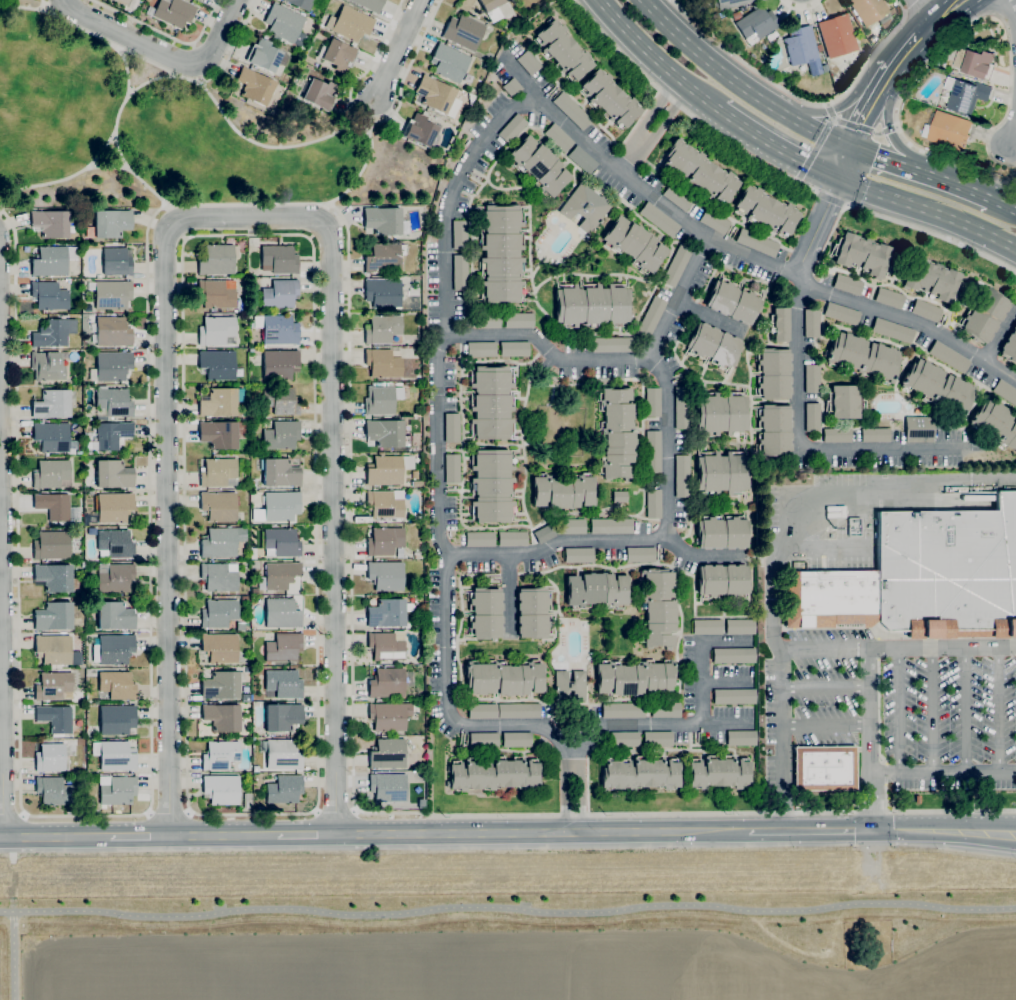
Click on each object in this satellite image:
building: (198, 0)
building: (846, 0)
building: (123, 1)
building: (732, 3)
building: (133, 4)
building: (304, 4)
building: (369, 4)
road: (910, 6)
road: (29, 7)
building: (492, 8)
road: (802, 8)
road: (925, 9)
building: (870, 10)
building: (173, 12)
road: (1011, 12)
building: (736, 15)
building: (715, 16)
road: (936, 17)
building: (350, 23)
building: (285, 24)
building: (756, 24)
building: (463, 32)
road: (165, 34)
building: (837, 35)
road: (948, 43)
building: (800, 45)
road: (399, 48)
building: (563, 50)
road: (902, 51)
road: (163, 53)
building: (339, 55)
building: (264, 56)
road: (657, 59)
building: (449, 62)
building: (528, 62)
building: (975, 63)
road: (163, 68)
road: (157, 77)
building: (469, 78)
building: (835, 78)
road: (738, 83)
building: (254, 86)
building: (511, 87)
building: (320, 94)
building: (438, 96)
building: (966, 96)
building: (609, 98)
road: (801, 99)
road: (828, 105)
road: (843, 105)
road: (683, 107)
road: (867, 107)
building: (571, 110)
road: (373, 121)
road: (886, 125)
road: (651, 127)
road: (896, 127)
building: (512, 128)
road: (863, 129)
building: (419, 130)
building: (947, 131)
park: (172, 133)
road: (1012, 135)
building: (558, 137)
road: (113, 142)
road: (819, 142)
road: (274, 146)
road: (778, 147)
traffic signals: (848, 149)
building: (582, 160)
road: (883, 161)
road: (843, 164)
building: (538, 166)
road: (112, 167)
building: (699, 171)
road: (356, 178)
road: (798, 179)
traffic signals: (838, 179)
road: (144, 180)
road: (455, 182)
road: (954, 186)
building: (677, 197)
road: (829, 199)
road: (847, 205)
building: (585, 206)
road: (1002, 206)
road: (671, 210)
building: (767, 210)
road: (928, 210)
road: (247, 217)
road: (888, 218)
building: (659, 219)
building: (383, 220)
building: (715, 221)
building: (51, 223)
building: (110, 224)
road: (817, 230)
building: (460, 234)
road: (185, 238)
building: (757, 242)
building: (634, 244)
building: (501, 253)
building: (862, 254)
building: (384, 258)
building: (279, 259)
building: (52, 260)
building: (216, 260)
building: (116, 262)
building: (676, 265)
building: (460, 272)
building: (932, 279)
building: (847, 284)
building: (383, 292)
building: (280, 293)
building: (111, 294)
building: (216, 294)
building: (49, 296)
building: (889, 298)
building: (733, 301)
building: (592, 305)
building: (88, 308)
building: (926, 310)
building: (841, 313)
building: (984, 314)
road: (708, 315)
building: (651, 317)
building: (486, 320)
building: (518, 320)
road: (909, 321)
building: (811, 322)
building: (779, 324)
building: (383, 328)
building: (216, 330)
building: (892, 330)
building: (279, 331)
building: (112, 332)
building: (51, 334)
road: (456, 335)
building: (613, 344)
building: (713, 345)
building: (1010, 345)
building: (514, 348)
building: (251, 349)
building: (481, 349)
building: (862, 356)
building: (949, 356)
building: (383, 363)
building: (280, 364)
building: (113, 365)
building: (218, 365)
building: (47, 366)
building: (774, 373)
building: (419, 377)
building: (812, 379)
building: (938, 386)
building: (1005, 392)
road: (799, 394)
building: (382, 399)
building: (281, 400)
building: (220, 401)
building: (844, 401)
building: (112, 402)
building: (491, 402)
building: (653, 402)
building: (53, 403)
building: (682, 407)
building: (720, 414)
building: (417, 415)
building: (812, 417)
building: (90, 423)
building: (996, 423)
building: (452, 427)
building: (919, 429)
building: (774, 430)
building: (387, 433)
building: (617, 433)
building: (113, 434)
building: (219, 434)
building: (281, 435)
building: (837, 435)
building: (875, 435)
building: (53, 437)
building: (653, 451)
building: (452, 468)
building: (388, 469)
building: (219, 472)
building: (280, 472)
building: (721, 473)
building: (52, 474)
building: (113, 474)
building: (682, 476)
road: (149, 482)
building: (253, 484)
building: (417, 484)
building: (492, 485)
building: (563, 491)
building: (620, 496)
building: (654, 503)
building: (385, 504)
building: (54, 506)
building: (219, 506)
building: (112, 507)
building: (278, 507)
road: (843, 512)
building: (611, 525)
building: (571, 526)
building: (722, 532)
building: (542, 533)
building: (512, 538)
building: (479, 539)
building: (222, 541)
building: (384, 541)
building: (282, 542)
building: (115, 544)
building: (52, 545)
road: (821, 547)
building: (640, 554)
building: (579, 555)
road: (703, 556)
building: (948, 571)
building: (280, 574)
building: (385, 575)
building: (115, 577)
building: (219, 577)
building: (55, 578)
building: (722, 580)
building: (597, 590)
road: (510, 595)
building: (246, 598)
building: (830, 598)
building: (658, 607)
building: (388, 612)
building: (533, 612)
building: (219, 613)
building: (281, 613)
building: (485, 613)
building: (116, 615)
building: (55, 616)
road: (2, 625)
building: (240, 626)
building: (740, 626)
building: (707, 627)
building: (387, 645)
building: (220, 647)
building: (283, 647)
road: (897, 647)
building: (53, 649)
building: (113, 649)
building: (732, 655)
building: (220, 667)
building: (635, 677)
building: (504, 678)
building: (387, 683)
building: (282, 684)
building: (117, 685)
building: (222, 685)
building: (54, 686)
building: (570, 686)
road: (826, 687)
building: (734, 696)
parking lot: (900, 705)
building: (666, 709)
building: (518, 710)
building: (623, 710)
building: (482, 711)
road: (898, 711)
road: (965, 711)
road: (998, 711)
road: (933, 712)
building: (390, 715)
building: (283, 716)
building: (222, 717)
building: (55, 718)
building: (116, 719)
road: (698, 725)
road: (826, 725)
building: (658, 738)
building: (742, 738)
road: (870, 738)
building: (483, 739)
building: (517, 739)
building: (625, 739)
road: (782, 740)
building: (387, 753)
building: (283, 754)
building: (115, 755)
building: (218, 755)
building: (50, 757)
building: (824, 768)
building: (232, 769)
building: (719, 772)
building: (639, 773)
building: (493, 774)
road: (942, 775)
building: (387, 788)
building: (221, 789)
building: (284, 789)
building: (54, 791)
building: (116, 791)
building: (917, 799)
building: (247, 800)
building: (421, 807)
road: (335, 811)
road: (169, 812)
road: (685, 813)
road: (12, 814)
road: (943, 823)
road: (810, 830)
road: (544, 833)
road: (224, 835)
road: (308, 835)
road: (140, 836)
road: (58, 837)
road: (943, 837)
road: (3, 838)
road: (508, 912)
park: (513, 927)
road: (16, 958)

